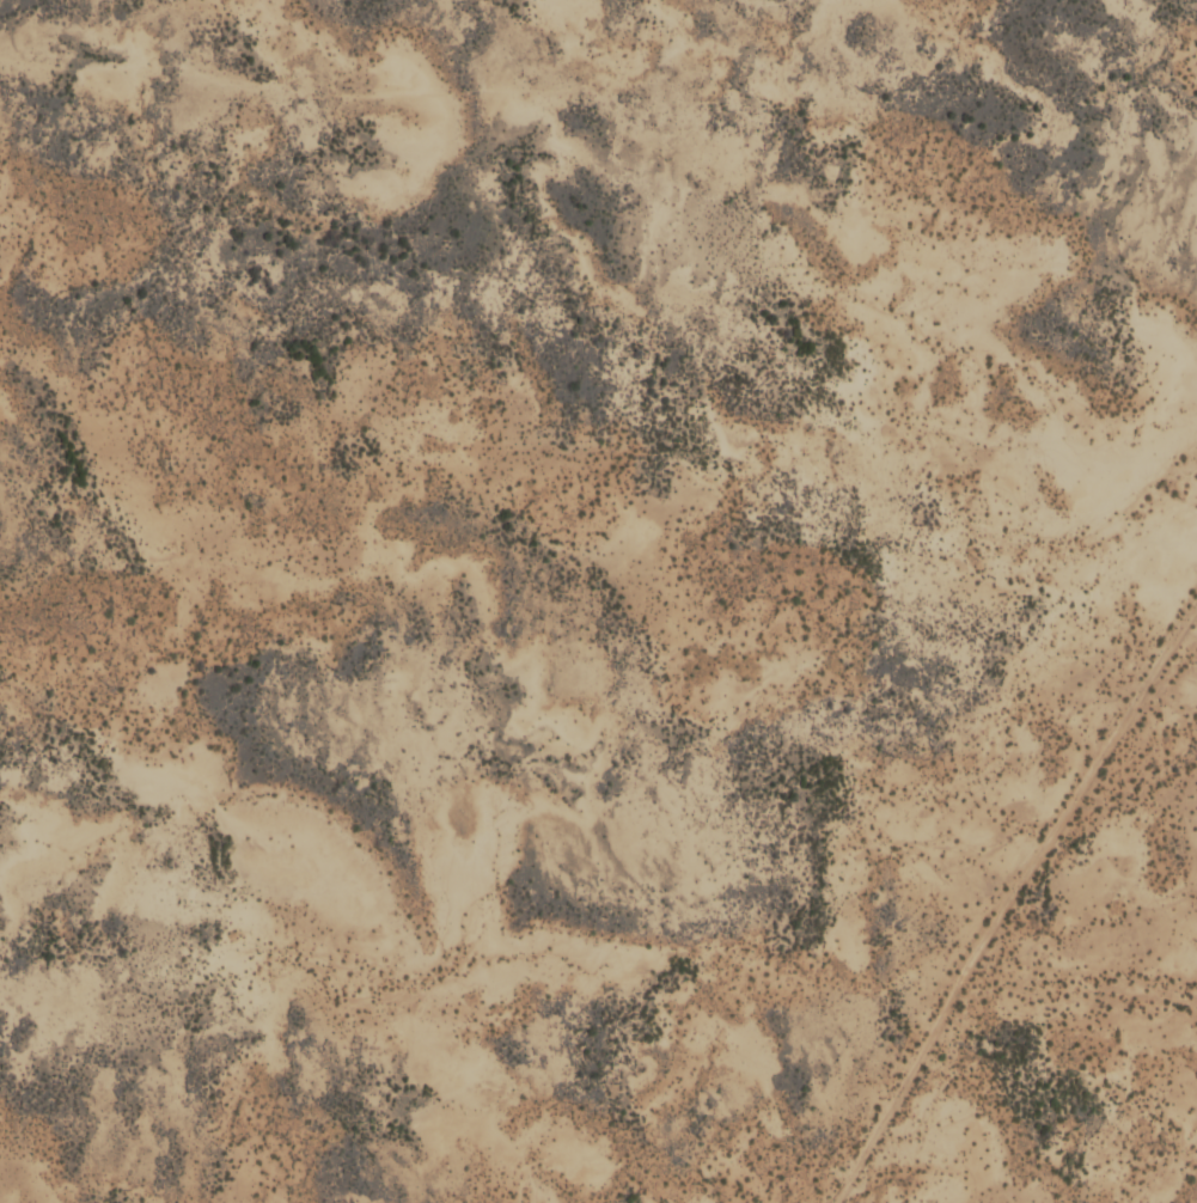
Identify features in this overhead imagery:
road: (997, 873)

